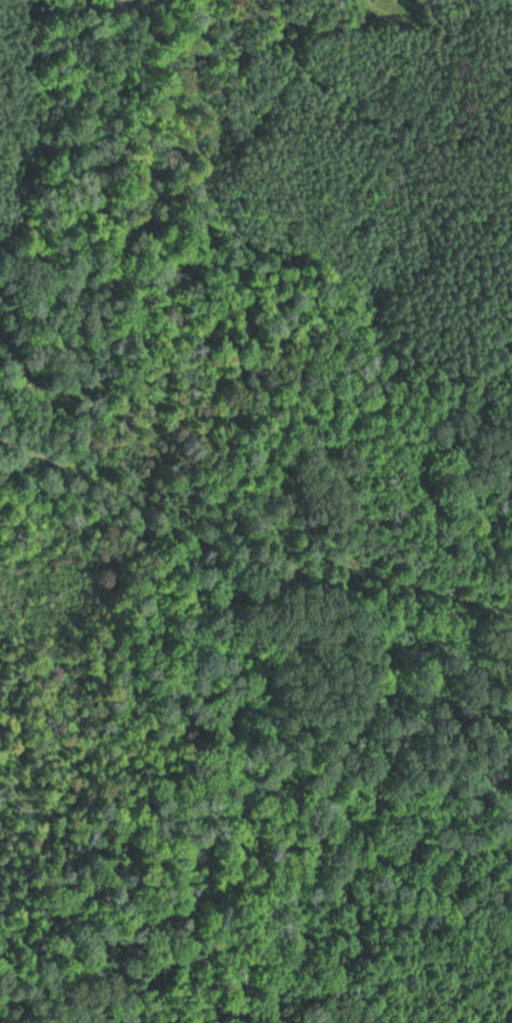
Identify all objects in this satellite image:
road: (82, 229)
road: (290, 548)

